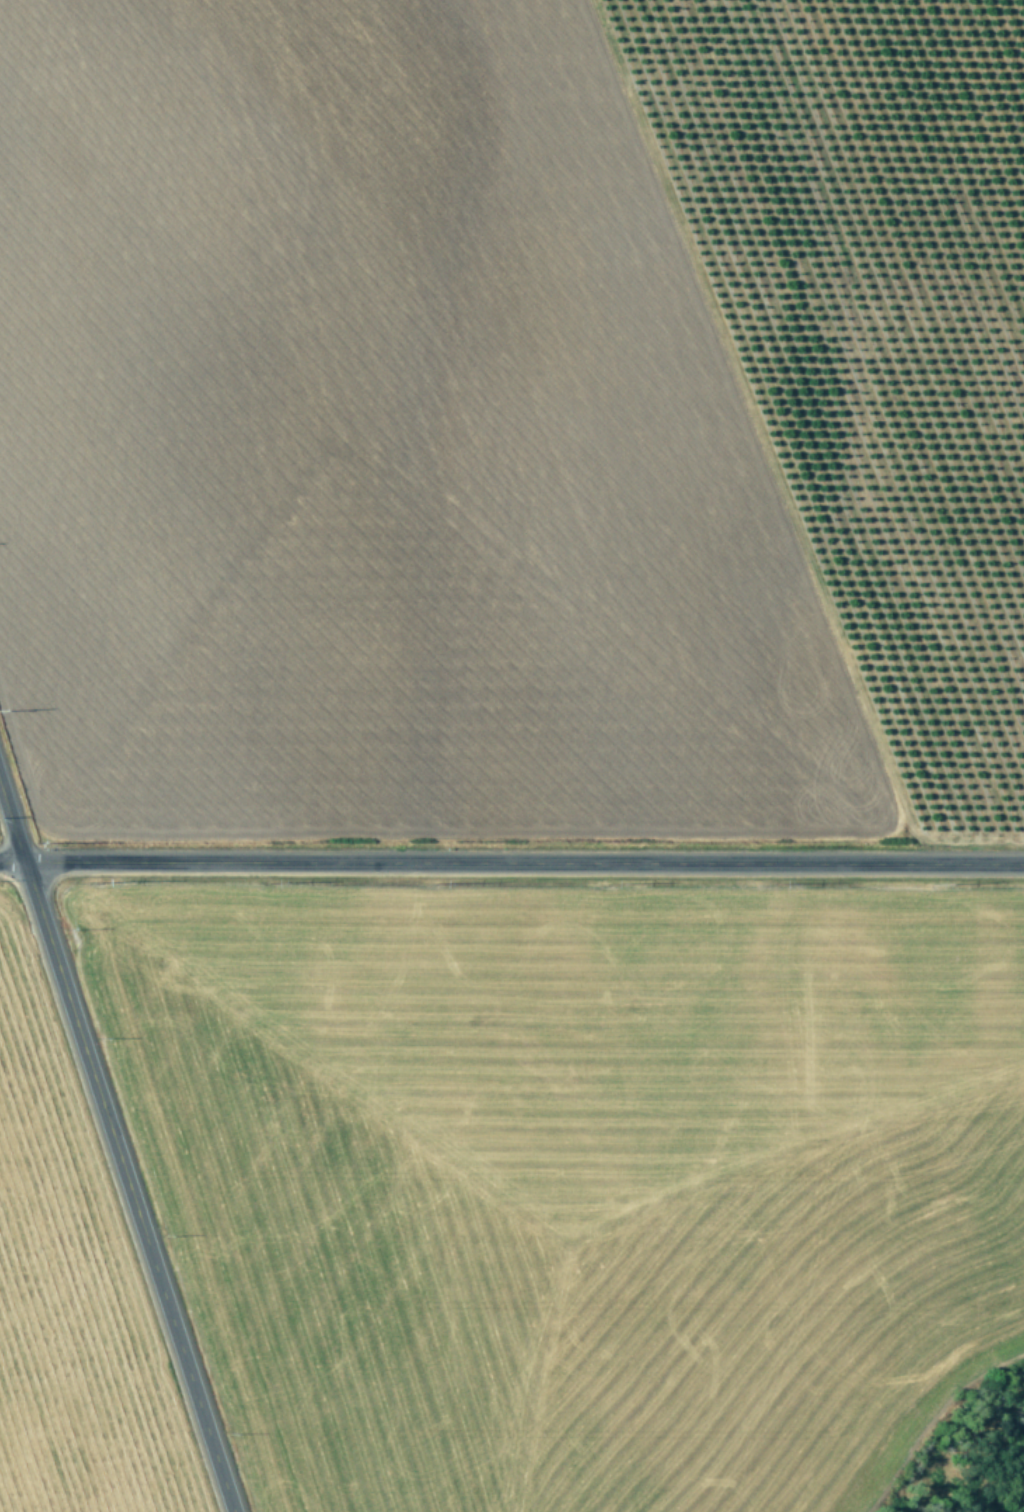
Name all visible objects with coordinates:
crop: (514, 413)
road: (511, 868)
road: (115, 1151)
crop: (52, 1353)

